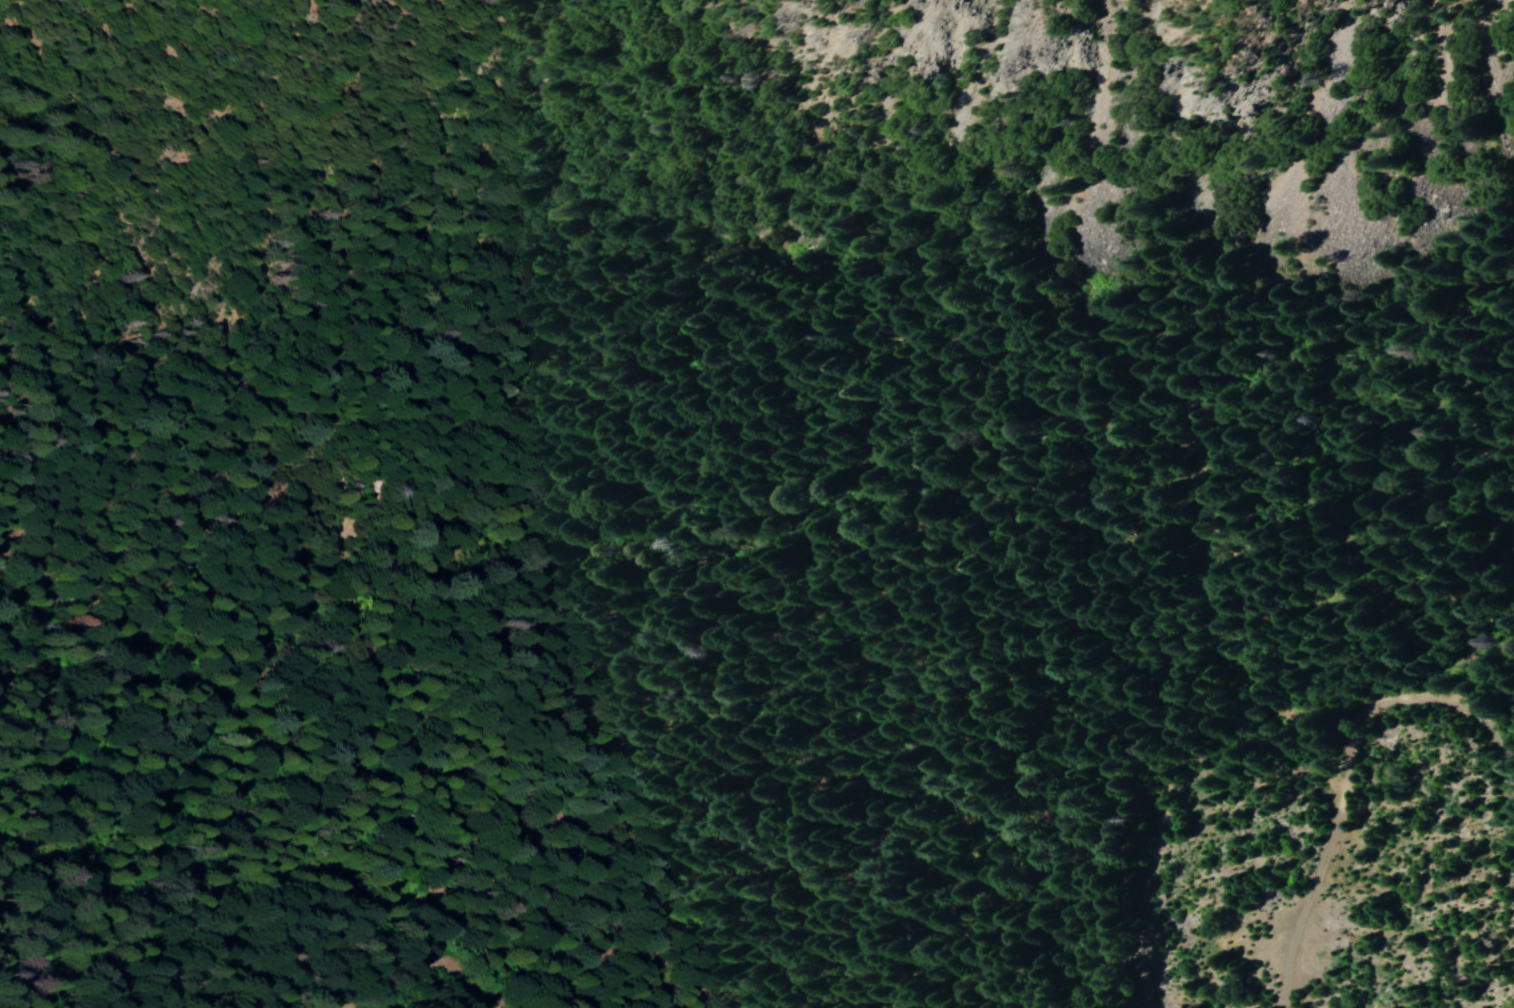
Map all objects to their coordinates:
road: (1350, 756)
road: (435, 971)

